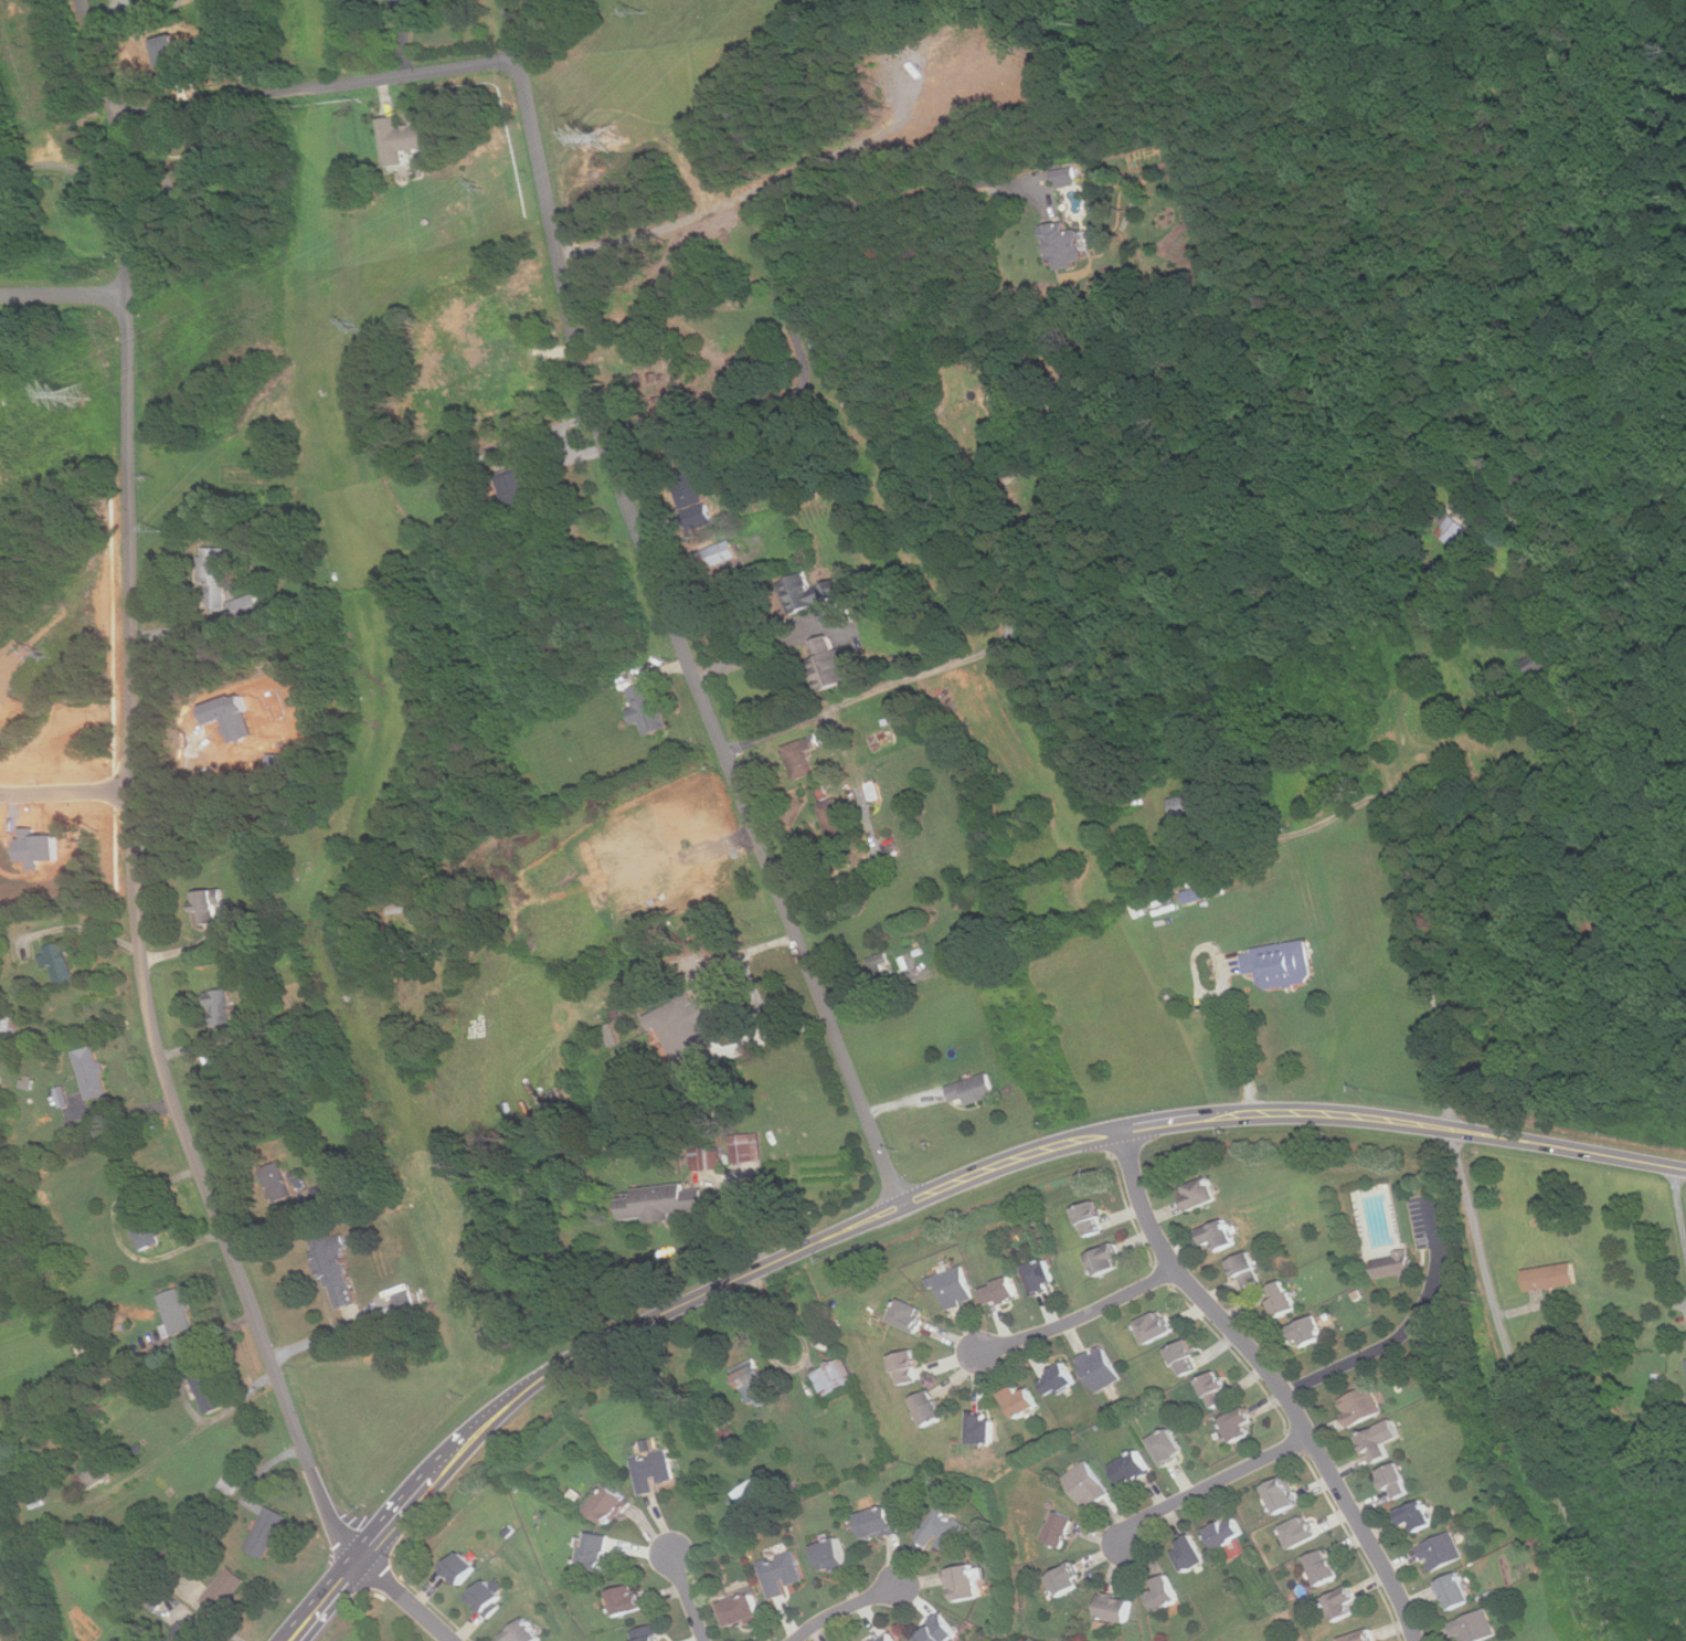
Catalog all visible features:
building: (386, 0)
road: (317, 85)
power tower: (612, 135)
building: (404, 140)
building: (1065, 173)
power tower: (479, 188)
building: (1, 191)
building: (1065, 245)
road: (774, 280)
road: (64, 295)
power tower: (352, 322)
power tower: (79, 392)
building: (1007, 404)
building: (520, 488)
building: (690, 488)
building: (719, 553)
building: (213, 568)
building: (809, 593)
building: (245, 606)
road: (668, 611)
road: (174, 631)
power tower: (44, 653)
road: (764, 653)
road: (975, 655)
building: (830, 665)
building: (648, 709)
building: (802, 760)
road: (66, 792)
road: (132, 793)
building: (1194, 804)
building: (834, 817)
road: (857, 875)
building: (1196, 894)
road: (1417, 899)
building: (210, 907)
road: (74, 925)
building: (643, 936)
building: (1281, 964)
building: (61, 965)
building: (882, 967)
road: (746, 970)
building: (221, 1007)
building: (708, 1009)
building: (9, 1023)
road: (770, 1037)
road: (1240, 1042)
building: (93, 1072)
building: (29, 1082)
building: (973, 1090)
road: (116, 1111)
road: (1470, 1130)
building: (745, 1147)
building: (707, 1160)
building: (278, 1182)
building: (1201, 1194)
building: (330, 1197)
building: (664, 1201)
road: (1680, 1205)
building: (1092, 1219)
building: (145, 1228)
road: (280, 1229)
building: (1220, 1235)
road: (148, 1258)
building: (1107, 1259)
building: (1395, 1264)
building: (338, 1270)
building: (1248, 1270)
building: (1042, 1277)
building: (1552, 1277)
road: (715, 1287)
building: (956, 1287)
building: (1003, 1292)
building: (1282, 1299)
building: (178, 1312)
building: (910, 1315)
road: (1079, 1316)
building: (1155, 1327)
road: (1401, 1328)
building: (1308, 1332)
road: (333, 1335)
building: (1186, 1358)
building: (908, 1367)
building: (1101, 1369)
building: (835, 1376)
road: (1274, 1377)
building: (1060, 1380)
building: (755, 1383)
building: (208, 1387)
road: (1519, 1387)
building: (1217, 1390)
building: (1022, 1402)
building: (930, 1407)
building: (1361, 1407)
building: (1240, 1425)
building: (983, 1430)
building: (1383, 1439)
building: (1169, 1448)
building: (1133, 1469)
building: (654, 1471)
building: (95, 1476)
building: (1396, 1482)
building: (233, 1483)
building: (1088, 1485)
road: (1211, 1485)
building: (1283, 1496)
building: (752, 1497)
building: (609, 1505)
building: (1418, 1516)
building: (880, 1524)
building: (944, 1531)
building: (1061, 1531)
building: (267, 1533)
building: (1302, 1533)
building: (1227, 1534)
building: (596, 1553)
building: (1443, 1553)
building: (833, 1556)
building: (1191, 1556)
building: (463, 1567)
building: (1325, 1568)
building: (782, 1574)
building: (1068, 1580)
building: (966, 1584)
building: (226, 1589)
building: (1455, 1591)
road: (687, 1595)
building: (1165, 1595)
road: (403, 1596)
building: (490, 1598)
building: (629, 1600)
building: (1343, 1603)
road: (847, 1608)
building: (1116, 1609)
building: (742, 1612)
building: (1476, 1627)
building: (939, 1632)
building: (523, 1633)
building: (183, 1634)
building: (649, 1634)
building: (1361, 1637)
building: (886, 1638)

